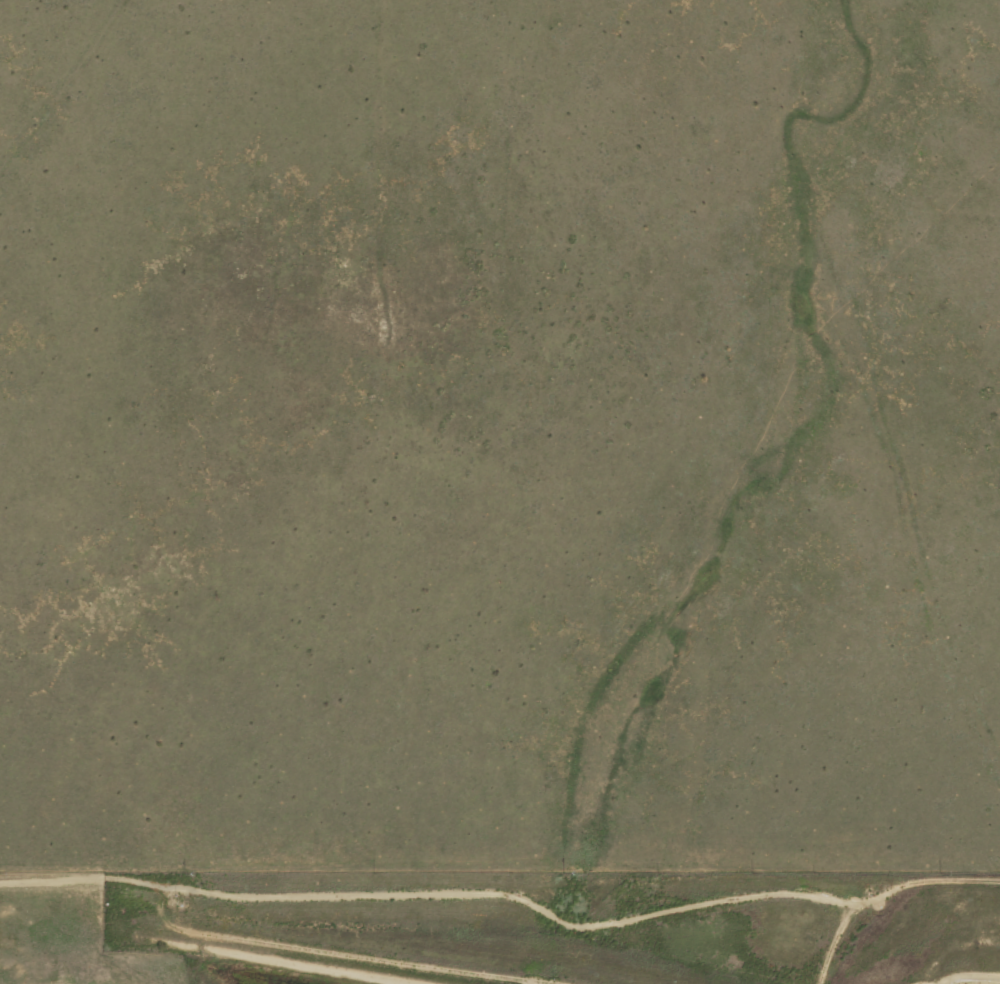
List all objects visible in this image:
road: (181, 377)
road: (498, 729)
power plant: (500, 927)

